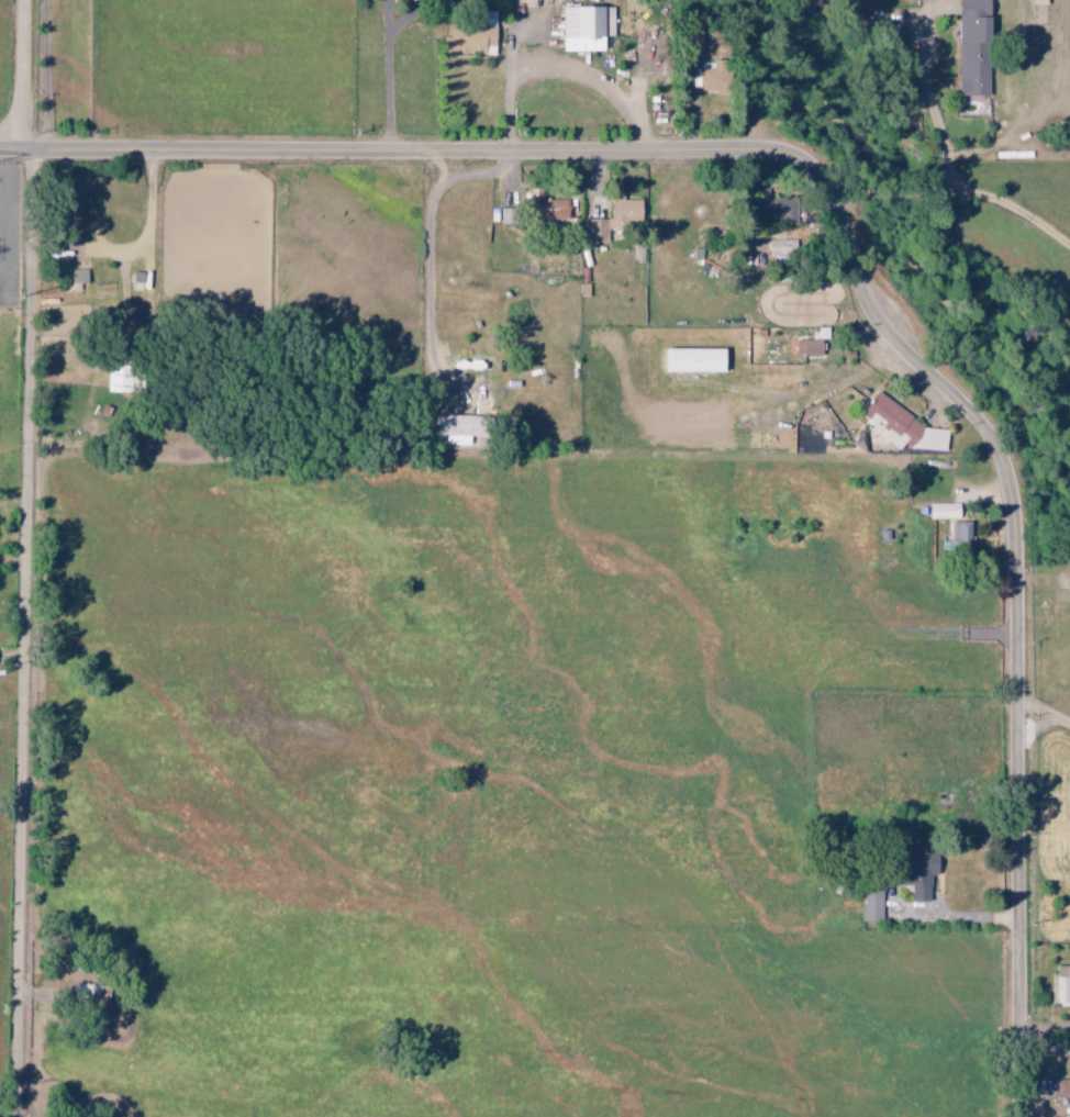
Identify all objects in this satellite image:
building: (588, 27)
building: (476, 38)
building: (977, 47)
building: (649, 52)
road: (26, 77)
building: (717, 78)
road: (959, 194)
building: (558, 209)
building: (787, 211)
building: (616, 219)
building: (783, 248)
road: (851, 256)
building: (81, 276)
building: (813, 343)
building: (696, 360)
building: (903, 427)
building: (468, 429)
building: (760, 439)
building: (946, 511)
building: (961, 535)
road: (27, 634)
road: (1045, 711)
building: (926, 876)
building: (872, 905)
building: (1063, 986)
building: (1067, 1088)

